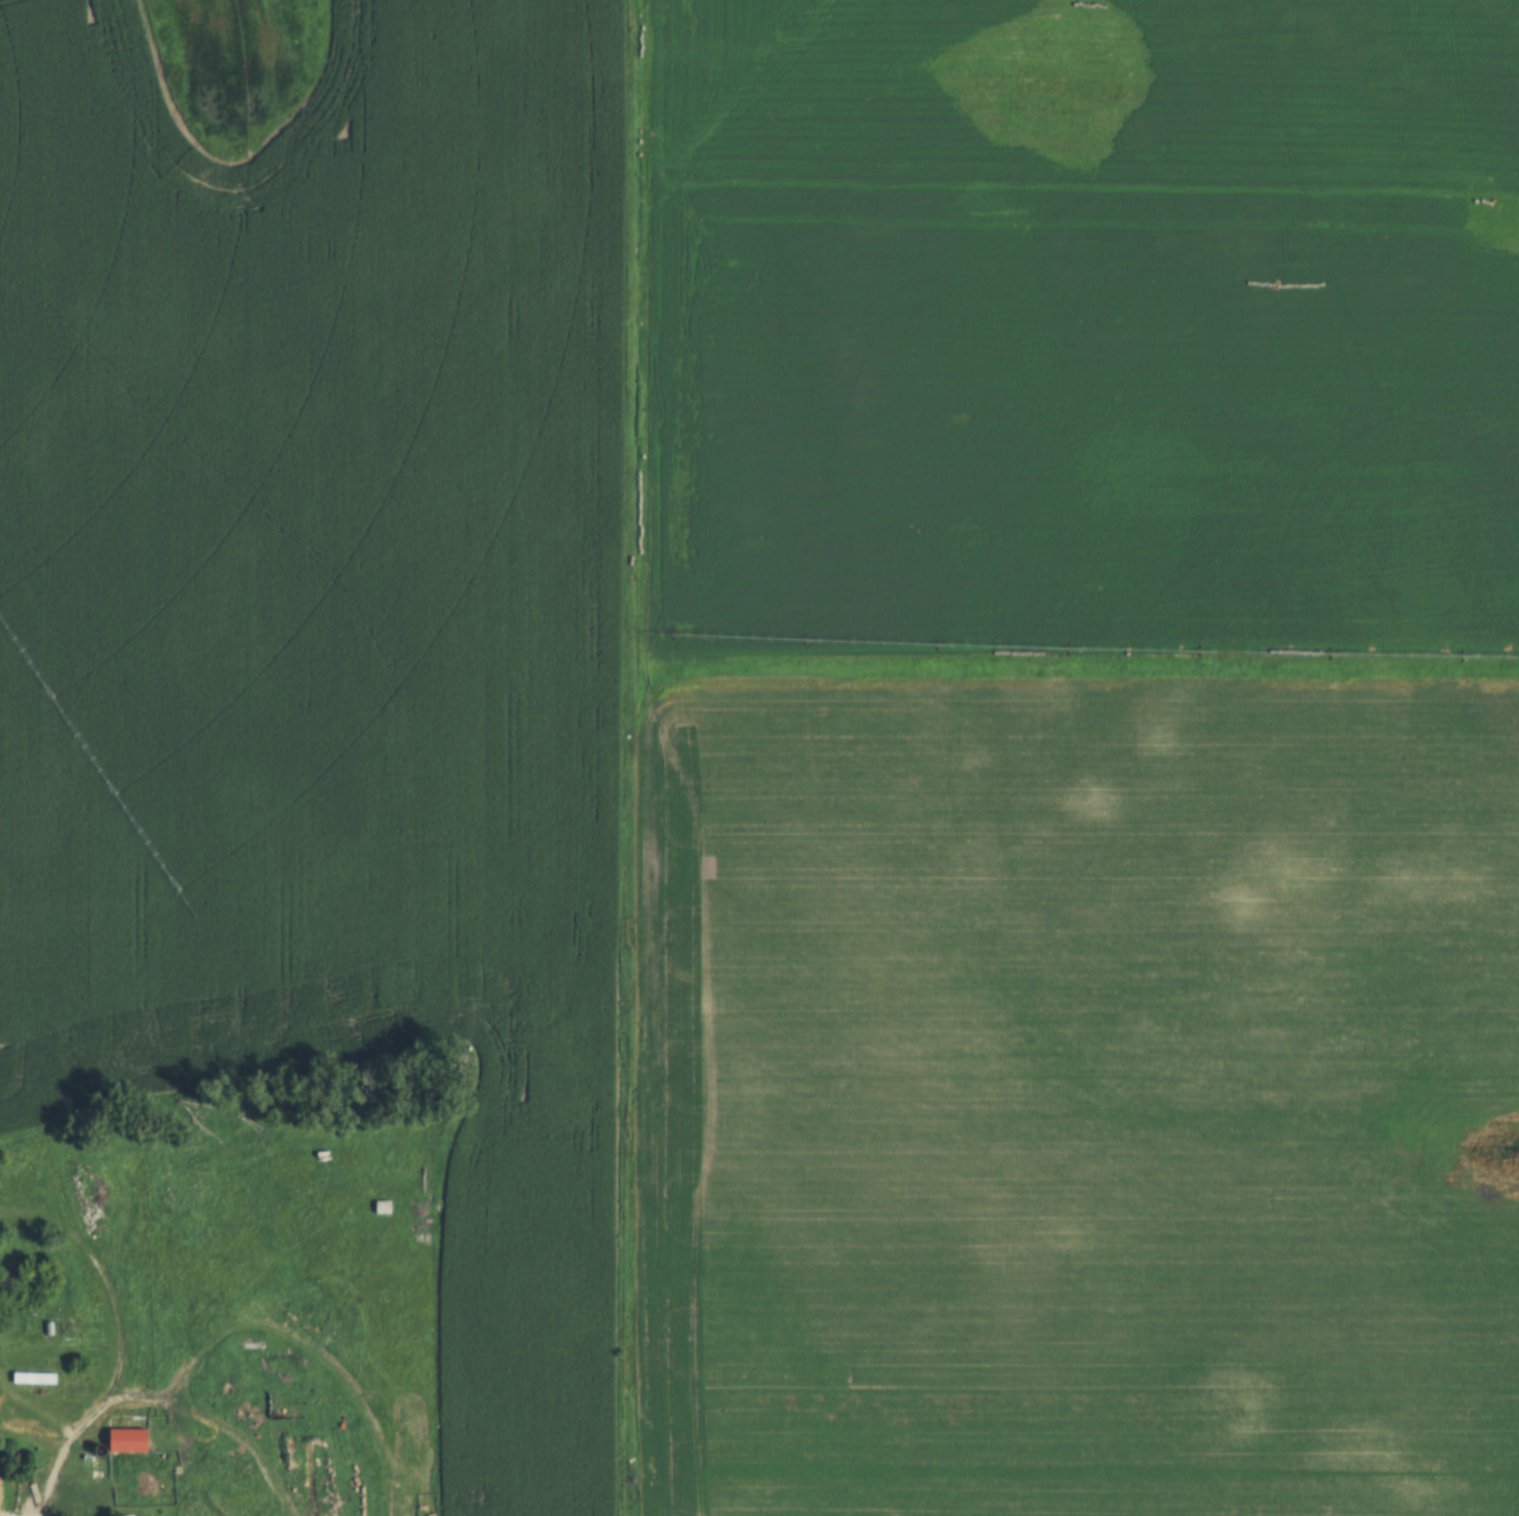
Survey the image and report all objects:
building: (381, 1208)
road: (102, 1280)
building: (30, 1380)
building: (123, 1430)
road: (62, 1460)

